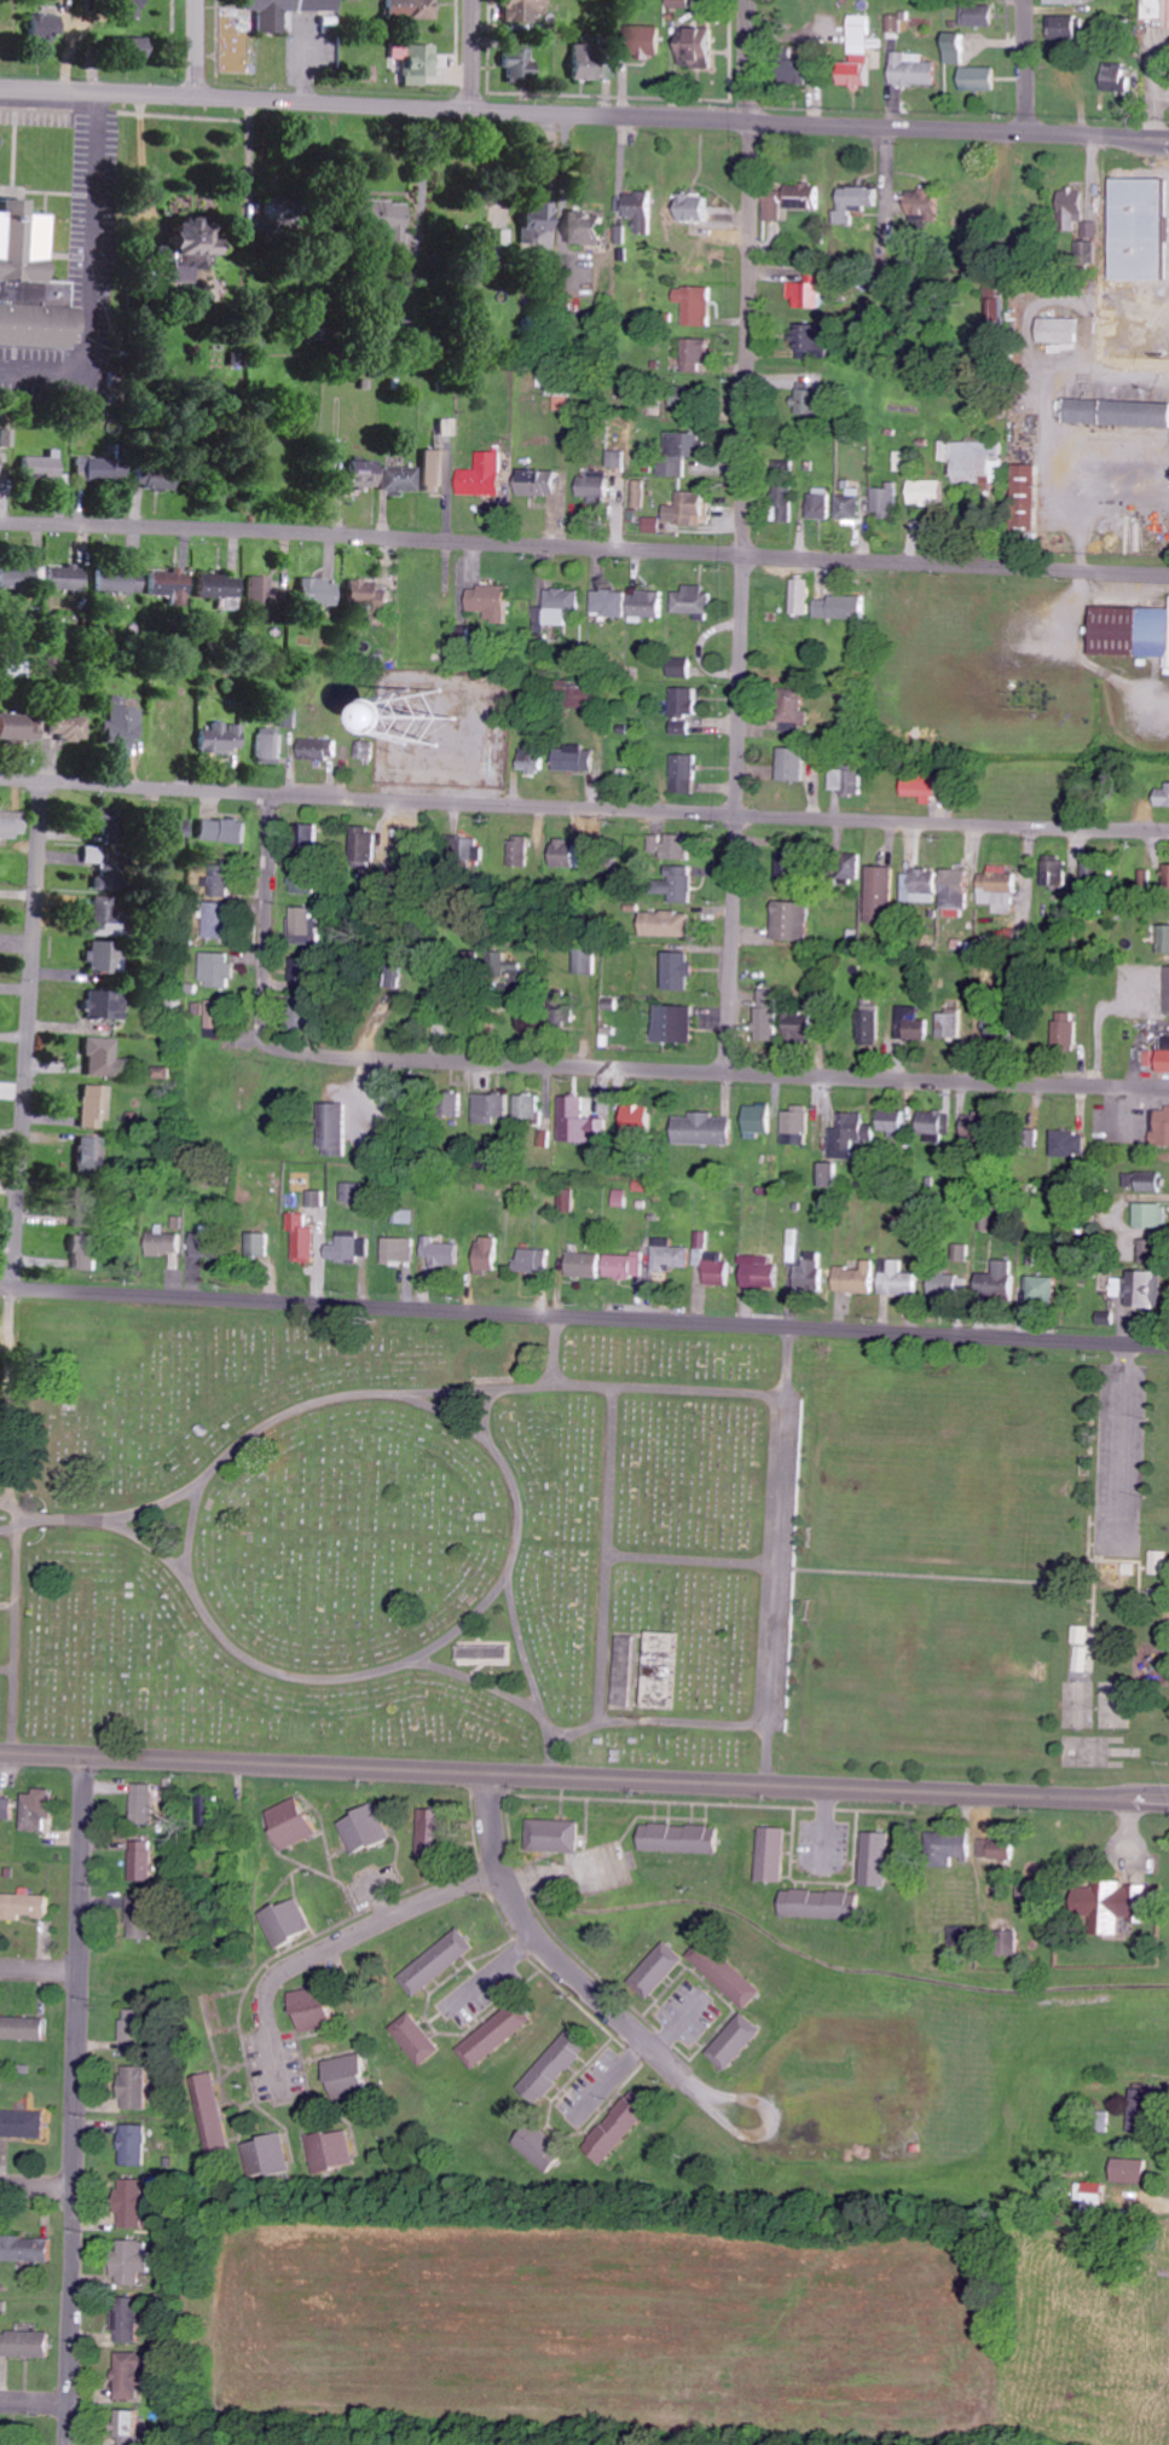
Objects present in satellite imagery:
building: (1073, 1)
building: (134, 8)
building: (412, 10)
building: (1161, 10)
building: (527, 11)
building: (980, 17)
building: (271, 23)
building: (47, 27)
building: (1072, 29)
building: (653, 35)
building: (135, 47)
building: (700, 47)
road: (195, 48)
building: (957, 48)
building: (862, 53)
road: (478, 54)
building: (418, 63)
building: (596, 63)
road: (1023, 65)
building: (522, 67)
building: (804, 67)
building: (915, 70)
building: (1117, 77)
building: (980, 79)
road: (238, 99)
road: (823, 123)
building: (805, 197)
building: (856, 204)
building: (775, 207)
building: (928, 207)
building: (704, 209)
building: (285, 210)
building: (638, 218)
building: (384, 219)
building: (540, 229)
building: (589, 230)
building: (193, 248)
road: (91, 276)
building: (30, 284)
building: (811, 291)
building: (996, 304)
building: (698, 305)
building: (1113, 305)
building: (1064, 330)
building: (815, 341)
building: (700, 356)
building: (559, 387)
building: (812, 403)
building: (1119, 414)
building: (683, 452)
building: (0, 459)
building: (978, 461)
building: (44, 467)
building: (104, 470)
building: (436, 470)
building: (365, 474)
building: (487, 475)
building: (156, 479)
building: (400, 479)
building: (542, 481)
building: (596, 487)
building: (641, 493)
building: (931, 493)
building: (1034, 497)
building: (889, 502)
building: (789, 503)
building: (823, 504)
building: (855, 505)
building: (684, 511)
road: (251, 534)
road: (741, 536)
road: (837, 563)
building: (18, 576)
building: (68, 579)
building: (120, 582)
building: (173, 585)
building: (222, 590)
building: (320, 593)
building: (268, 594)
building: (372, 594)
building: (805, 596)
building: (493, 602)
building: (613, 602)
building: (696, 602)
building: (649, 603)
building: (843, 607)
building: (561, 608)
building: (1133, 631)
building: (684, 667)
building: (479, 707)
building: (687, 709)
building: (798, 710)
building: (291, 717)
building: (123, 724)
building: (22, 727)
building: (71, 727)
building: (224, 738)
building: (272, 746)
building: (322, 748)
building: (364, 750)
building: (533, 758)
building: (573, 758)
building: (795, 764)
building: (688, 774)
building: (847, 779)
building: (922, 787)
road: (238, 794)
building: (1164, 797)
road: (823, 817)
building: (13, 825)
building: (181, 830)
building: (226, 831)
building: (316, 837)
building: (366, 842)
building: (673, 846)
building: (401, 850)
building: (522, 851)
building: (110, 852)
building: (567, 857)
building: (607, 863)
building: (1095, 873)
building: (1055, 874)
building: (1168, 875)
building: (305, 877)
building: (226, 880)
building: (685, 884)
building: (922, 886)
building: (1002, 888)
building: (959, 889)
building: (882, 891)
building: (109, 917)
building: (224, 920)
building: (794, 921)
building: (664, 924)
building: (307, 925)
road: (266, 930)
building: (1165, 938)
building: (100, 955)
building: (588, 961)
building: (219, 969)
building: (682, 971)
building: (305, 978)
building: (439, 998)
building: (108, 1005)
building: (770, 1017)
building: (219, 1018)
building: (678, 1023)
building: (914, 1024)
building: (873, 1028)
building: (951, 1028)
building: (1066, 1028)
building: (995, 1029)
road: (28, 1035)
building: (103, 1057)
building: (1159, 1059)
road: (725, 1071)
building: (531, 1106)
building: (96, 1108)
building: (493, 1109)
building: (643, 1119)
building: (760, 1120)
building: (578, 1121)
building: (895, 1122)
building: (933, 1123)
building: (798, 1126)
building: (1162, 1126)
building: (980, 1127)
building: (338, 1129)
building: (708, 1129)
building: (853, 1134)
building: (1071, 1145)
building: (92, 1157)
building: (832, 1174)
building: (1148, 1181)
building: (318, 1198)
building: (1153, 1215)
building: (305, 1238)
building: (260, 1244)
building: (210, 1245)
building: (168, 1247)
building: (347, 1248)
building: (401, 1249)
building: (491, 1250)
building: (442, 1252)
building: (1154, 1252)
building: (88, 1253)
building: (671, 1256)
building: (536, 1261)
building: (588, 1265)
building: (627, 1265)
building: (812, 1272)
building: (765, 1274)
building: (878, 1279)
building: (1000, 1281)
building: (950, 1285)
building: (1048, 1285)
building: (1145, 1289)
road: (584, 1317)
road: (15, 1507)
road: (68, 1518)
road: (13, 1524)
road: (191, 1524)
park: (399, 1532)
road: (514, 1537)
building: (1161, 1562)
building: (1087, 1648)
building: (487, 1653)
building: (627, 1671)
road: (41, 1749)
road: (626, 1771)
building: (147, 1800)
building: (8, 1809)
building: (41, 1810)
building: (296, 1822)
building: (369, 1830)
building: (436, 1832)
building: (559, 1836)
building: (684, 1838)
building: (955, 1848)
building: (1001, 1849)
building: (776, 1855)
building: (880, 1860)
building: (145, 1861)
building: (826, 1904)
building: (1123, 1904)
building: (28, 1906)
building: (145, 1917)
building: (290, 1923)
road: (349, 1938)
road: (540, 1943)
building: (468, 1944)
building: (661, 1970)
road: (40, 1973)
building: (729, 1973)
building: (317, 2008)
building: (139, 2028)
building: (25, 2029)
building: (497, 2036)
building: (418, 2039)
building: (737, 2042)
building: (556, 2068)
building: (351, 2077)
building: (138, 2088)
road: (76, 2097)
building: (213, 2115)
building: (1146, 2115)
building: (24, 2125)
building: (621, 2126)
building: (137, 2145)
building: (542, 2148)
building: (334, 2151)
building: (270, 2157)
building: (1134, 2172)
road: (37, 2184)
building: (135, 2204)
building: (31, 2249)
building: (134, 2261)
building: (132, 2324)
building: (28, 2345)
building: (132, 2376)
road: (34, 2408)
building: (134, 2427)

